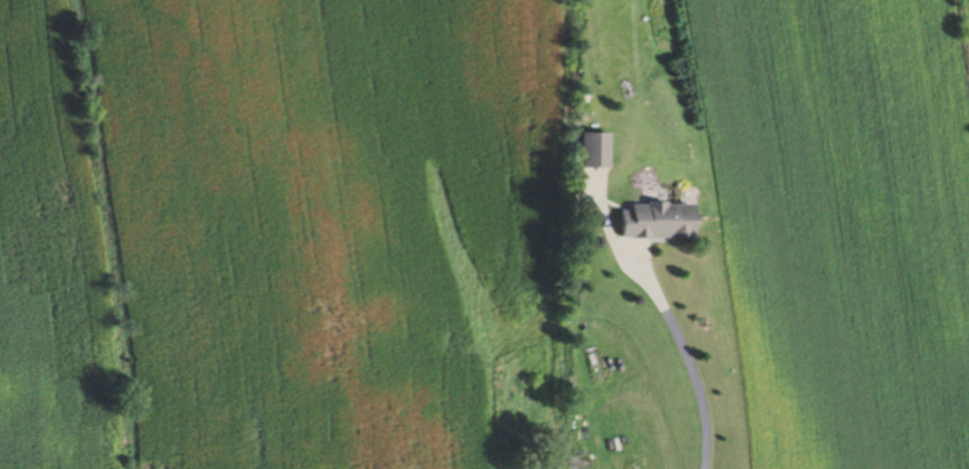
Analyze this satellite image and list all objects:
building: (592, 153)
building: (654, 223)
road: (687, 353)

